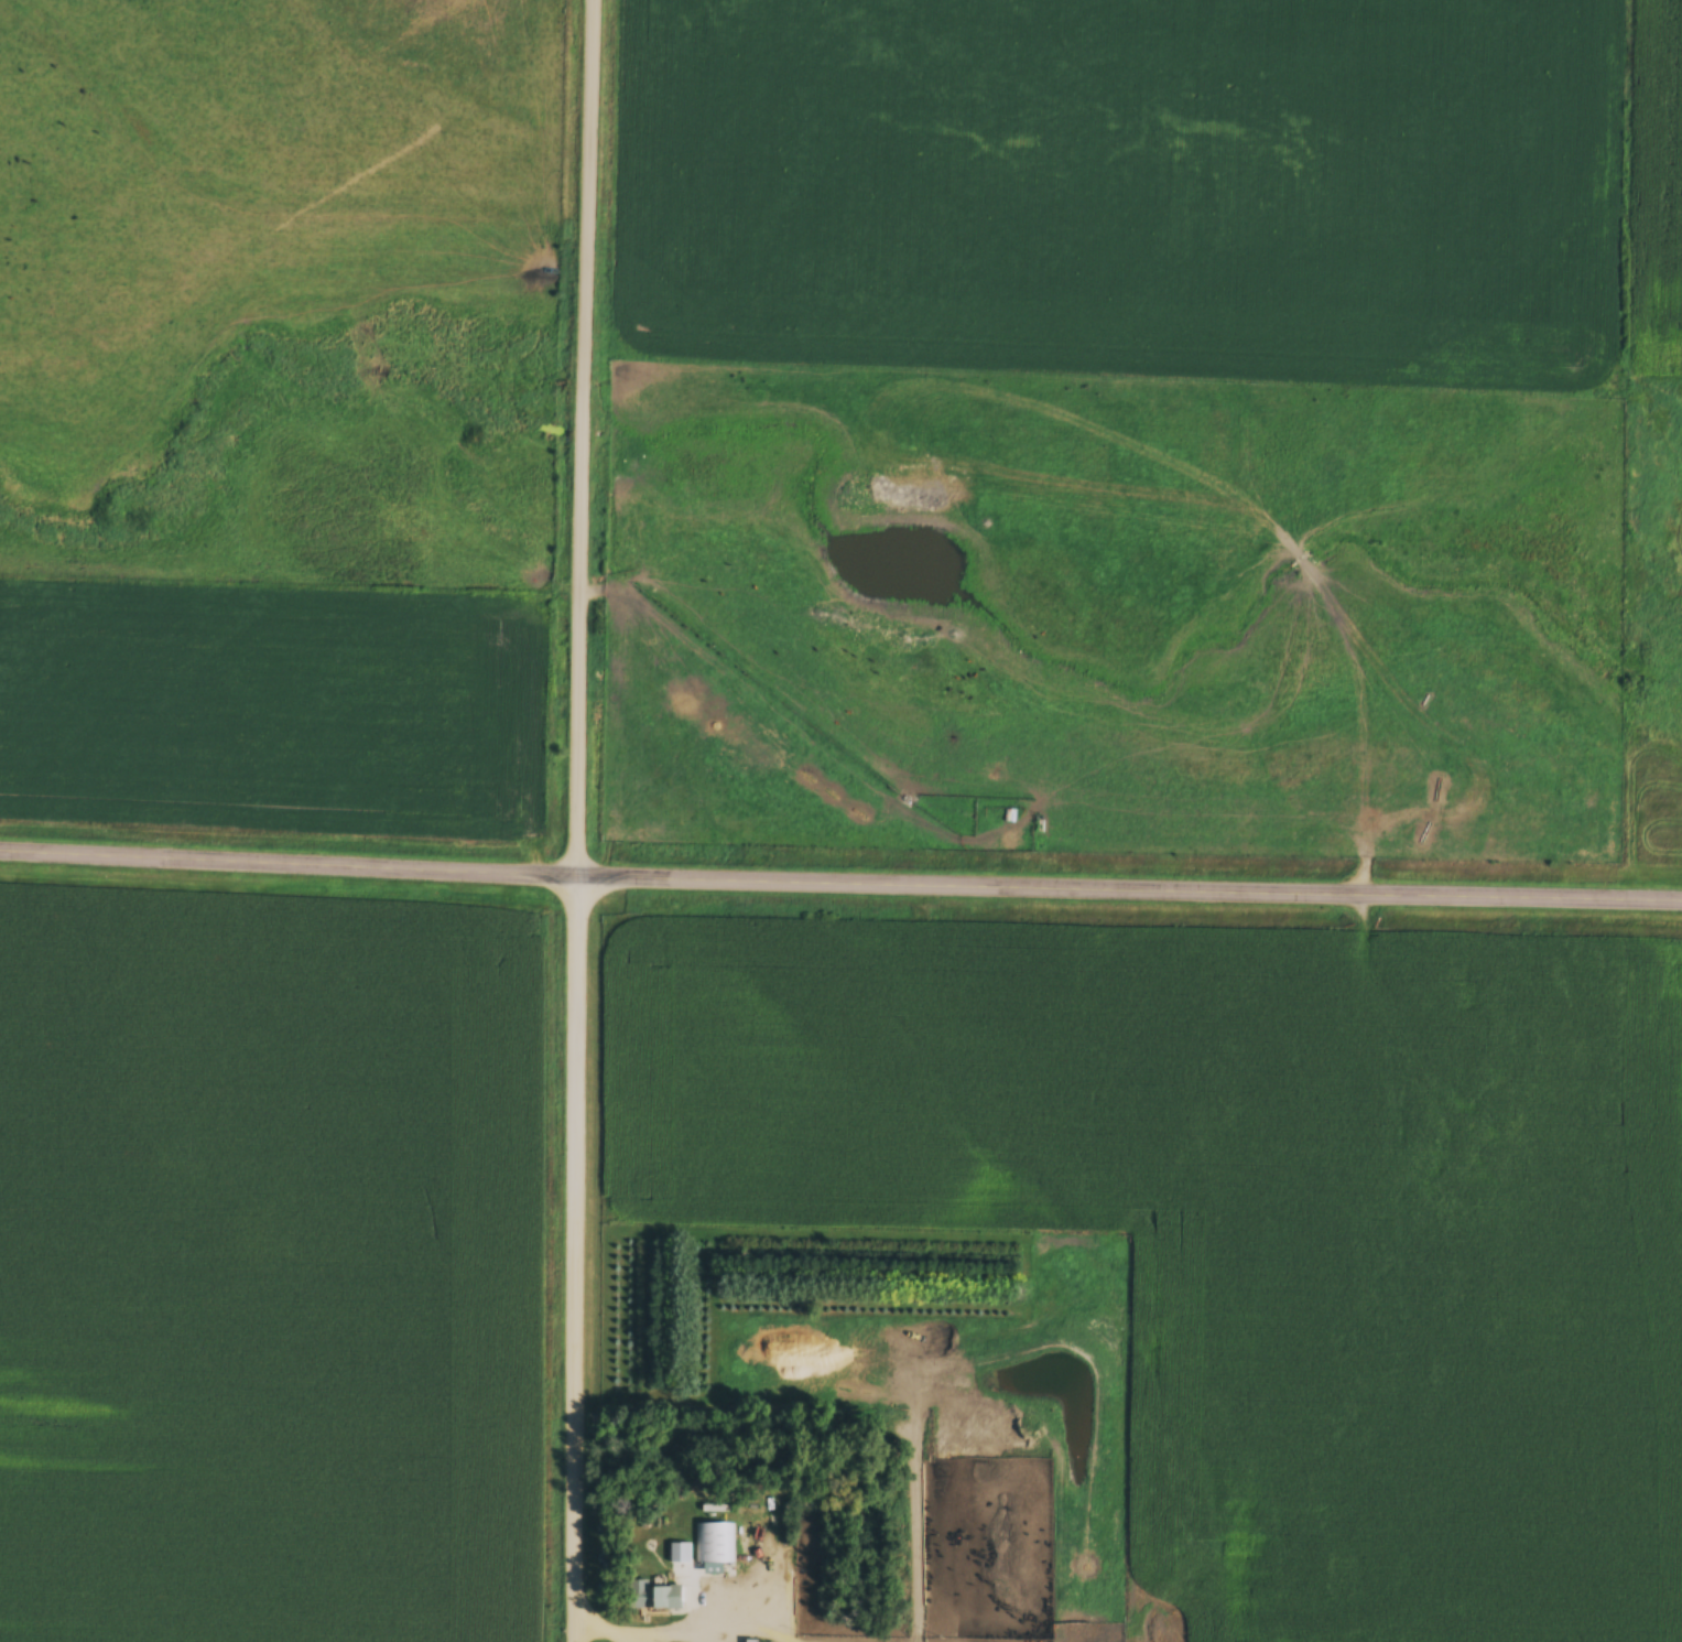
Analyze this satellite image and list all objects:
road: (572, 820)
road: (840, 879)
building: (716, 1544)
building: (681, 1554)
building: (655, 1598)
road: (601, 1629)

